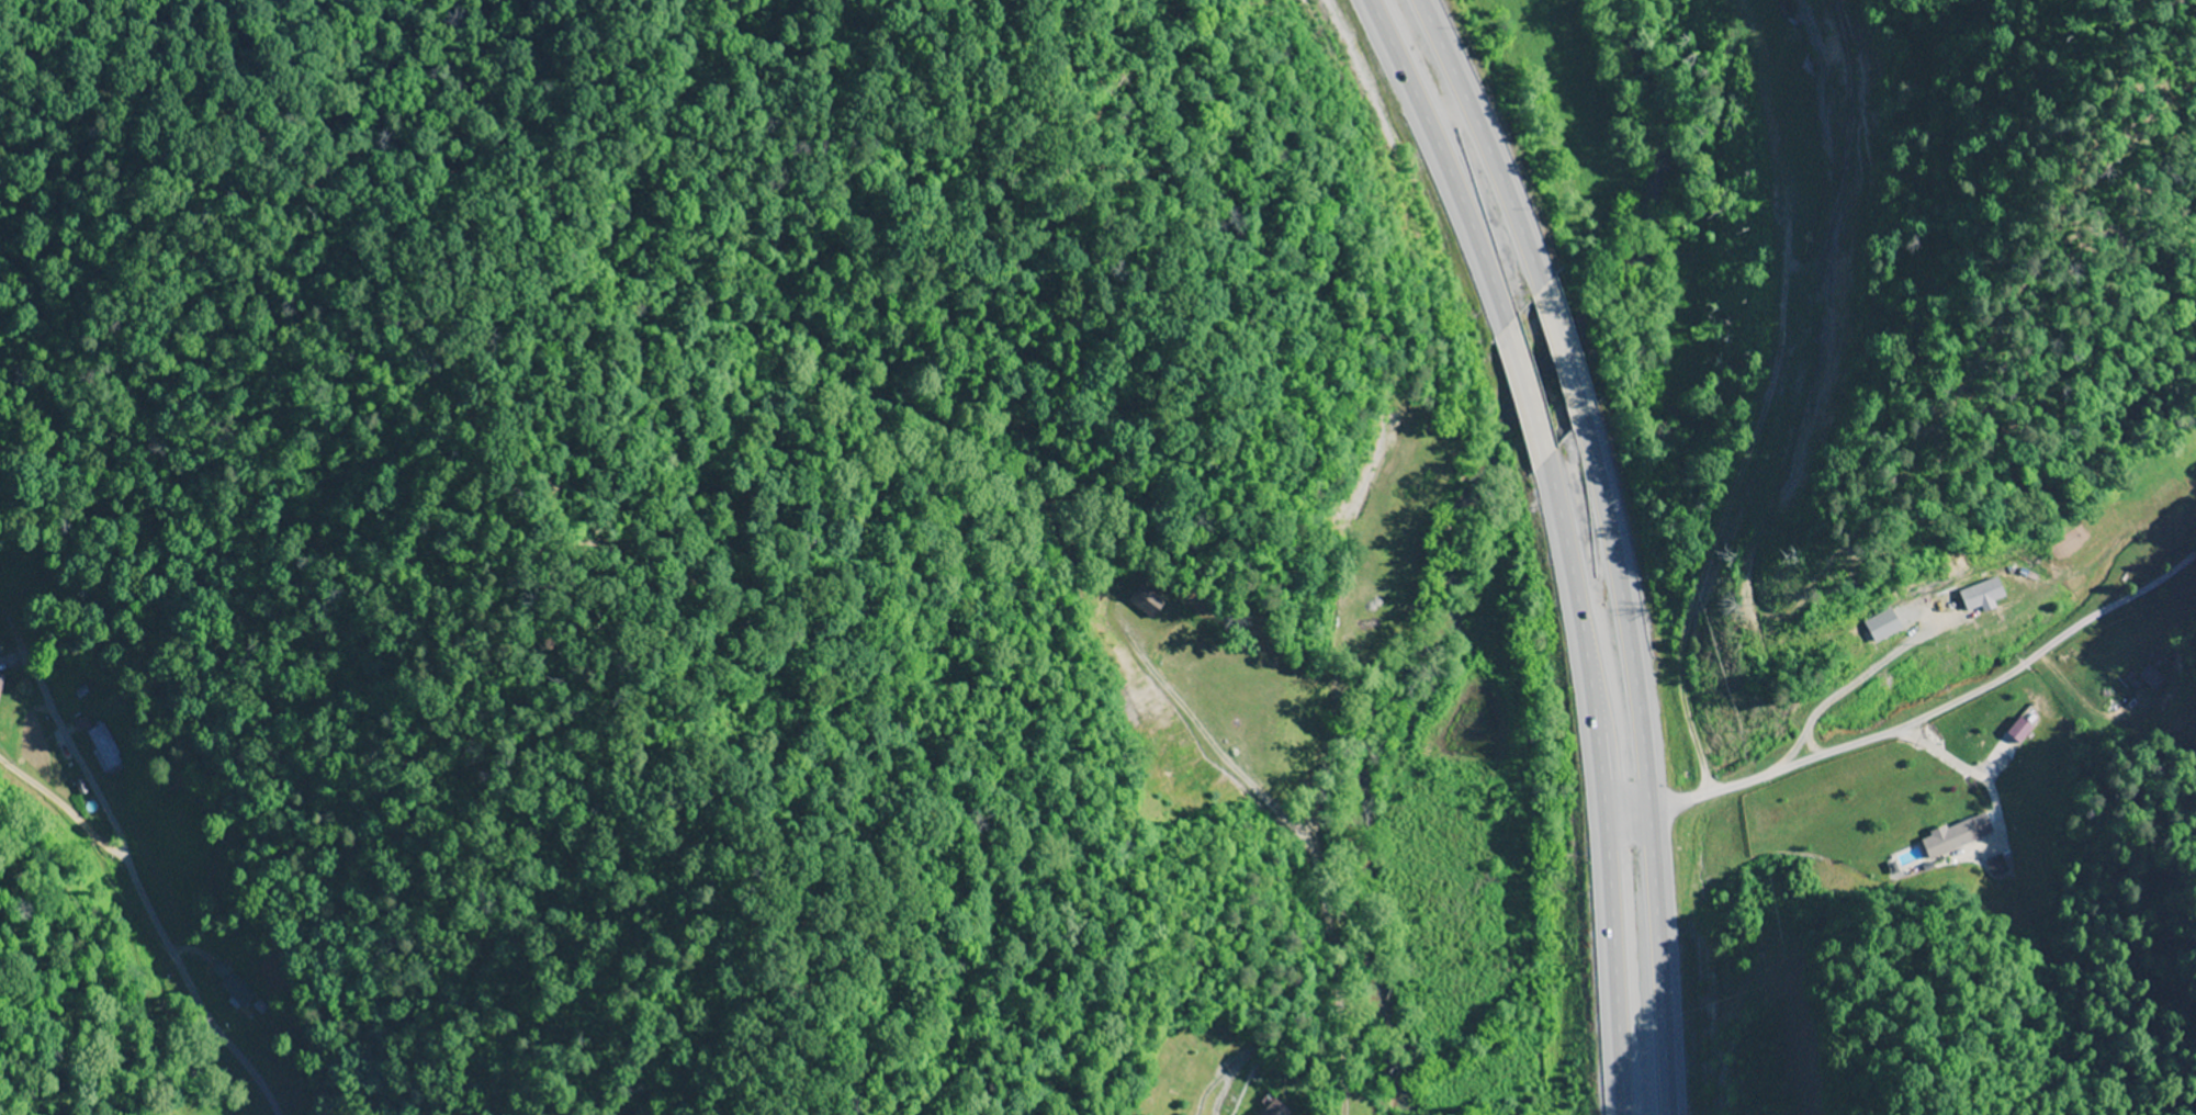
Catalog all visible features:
road: (1743, 483)
road: (1565, 542)
road: (1603, 542)
building: (1981, 594)
building: (0, 679)
building: (2019, 731)
building: (104, 747)
road: (1307, 838)
building: (1948, 838)
road: (177, 964)
building: (232, 987)

